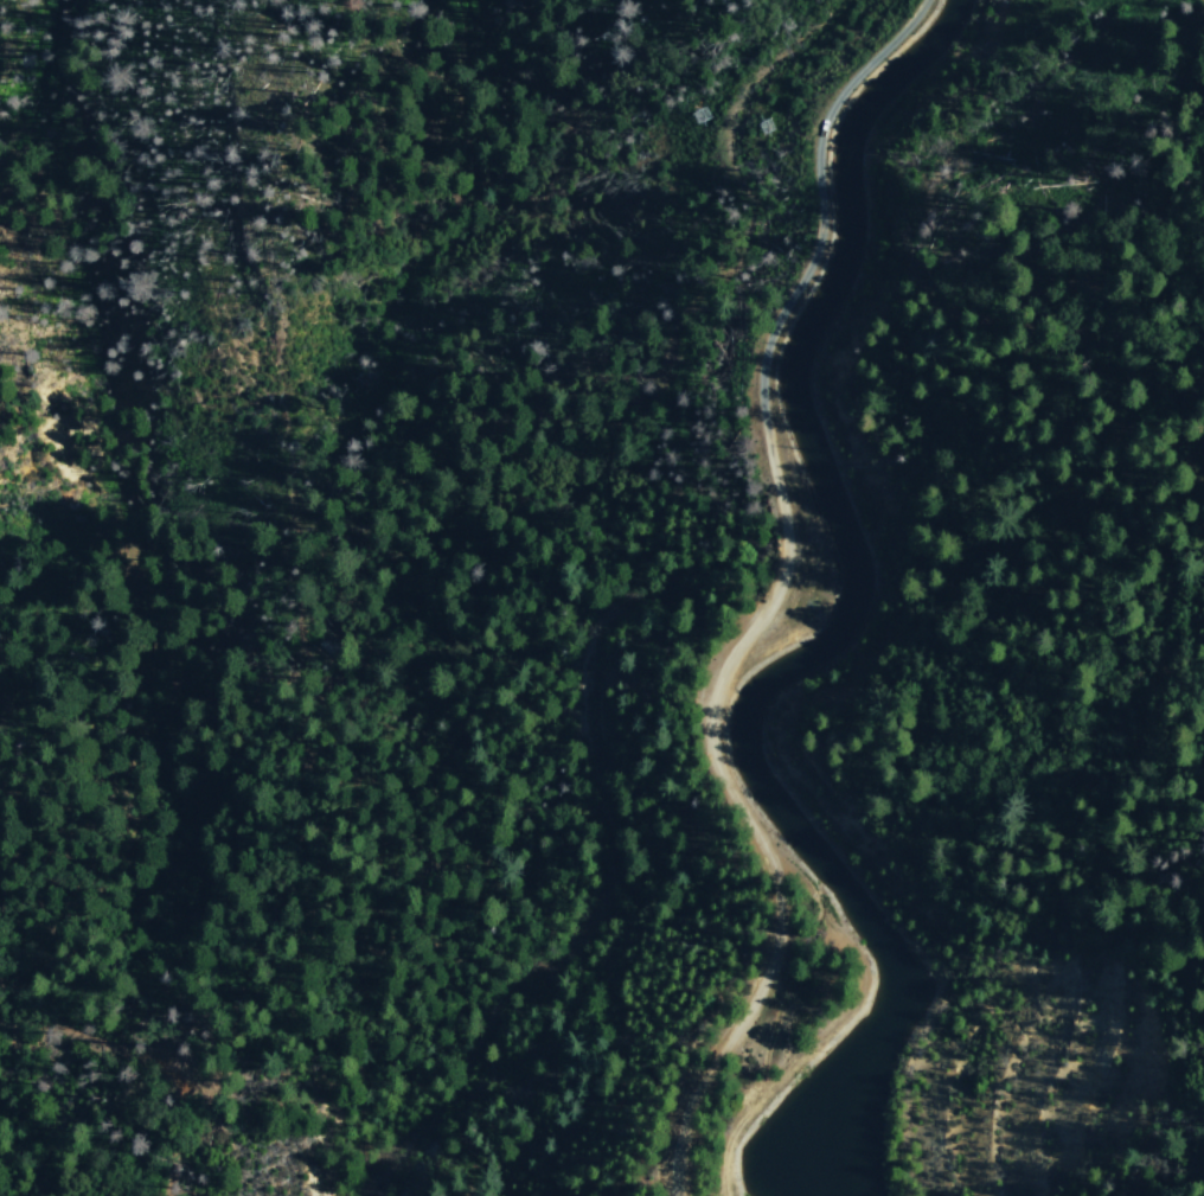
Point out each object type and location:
road: (1203, 0)
power tower: (706, 113)
power tower: (764, 123)
road: (813, 172)
road: (728, 788)

